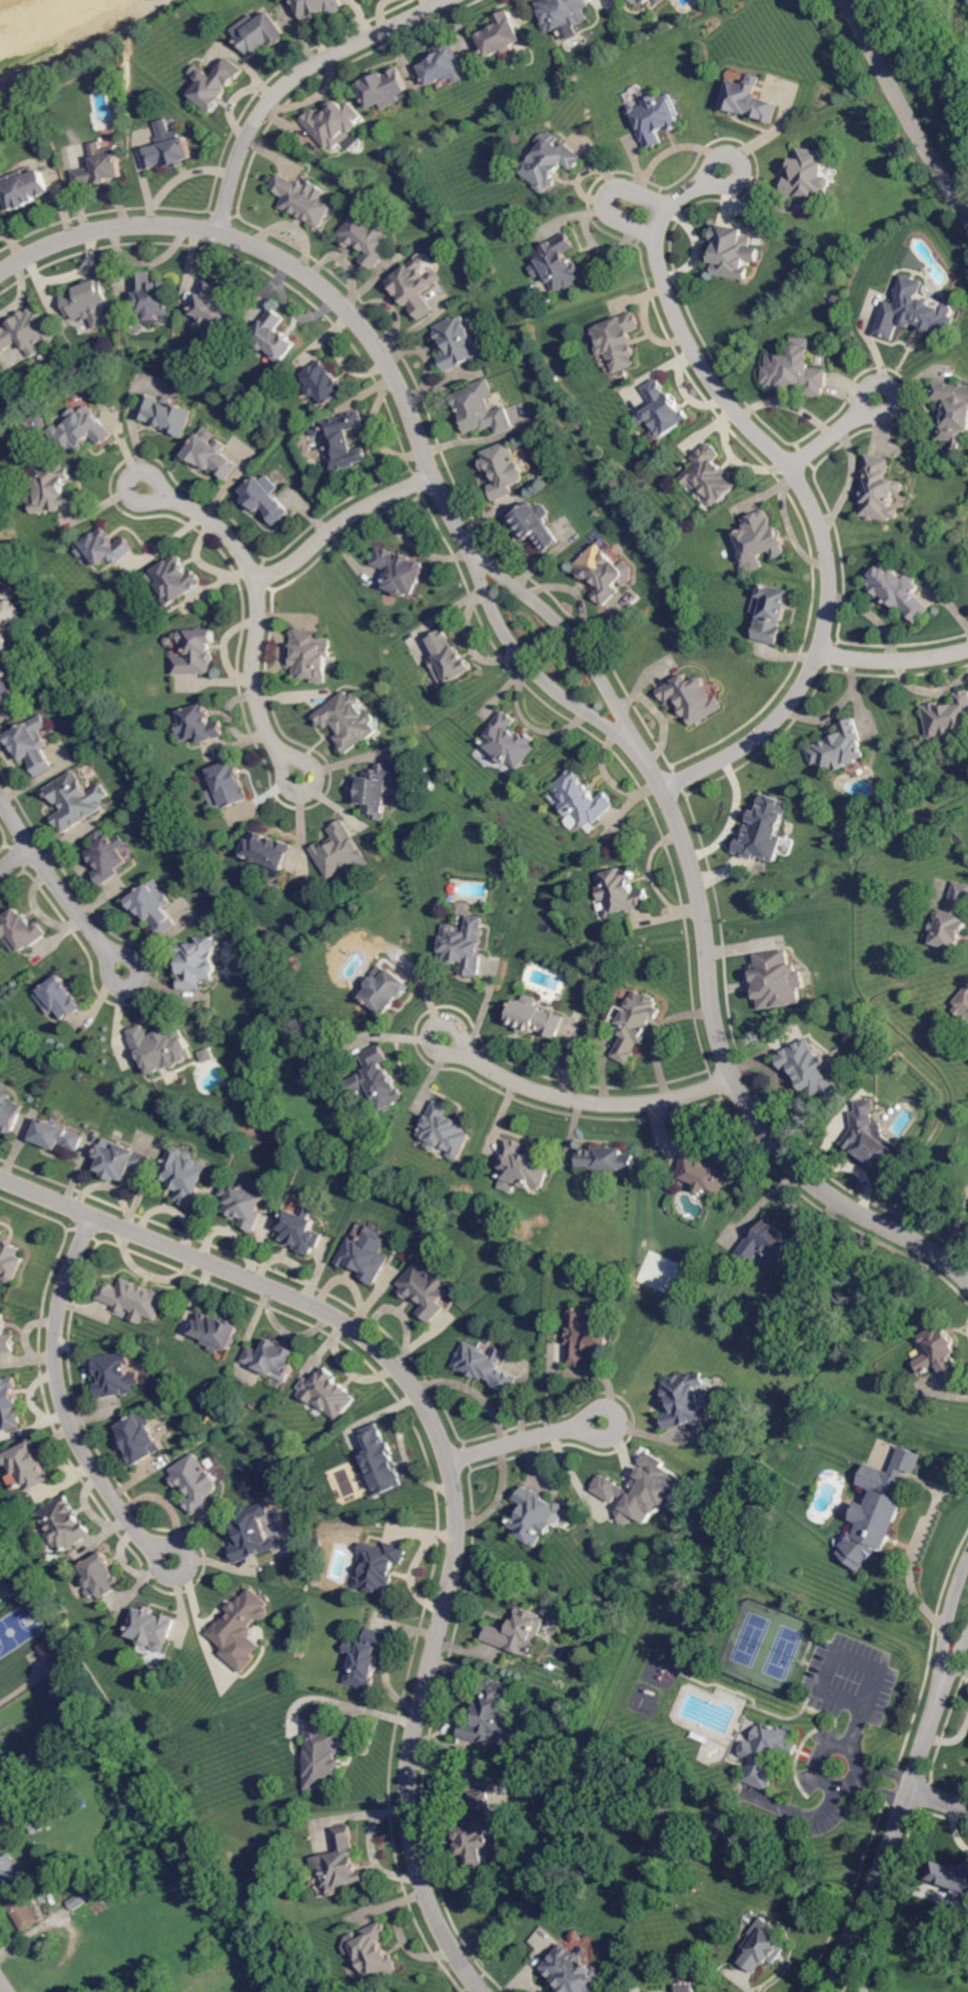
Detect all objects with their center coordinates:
building: (624, 0)
building: (641, 2)
building: (319, 8)
building: (563, 13)
building: (259, 33)
building: (501, 35)
building: (444, 65)
road: (297, 77)
building: (109, 78)
building: (214, 84)
building: (383, 88)
building: (750, 100)
road: (904, 107)
building: (656, 116)
building: (334, 124)
building: (168, 152)
building: (549, 162)
building: (101, 166)
building: (811, 174)
building: (23, 188)
road: (607, 194)
building: (302, 200)
building: (0, 213)
building: (367, 237)
building: (733, 252)
building: (559, 263)
building: (416, 287)
building: (150, 296)
building: (86, 300)
building: (214, 309)
building: (917, 313)
building: (474, 321)
building: (135, 327)
building: (27, 332)
building: (273, 337)
building: (618, 341)
building: (459, 343)
building: (797, 372)
building: (1, 374)
building: (322, 383)
building: (480, 409)
building: (664, 411)
building: (953, 412)
building: (164, 415)
building: (38, 423)
building: (81, 430)
road: (842, 436)
building: (343, 442)
building: (211, 456)
building: (502, 470)
building: (710, 476)
road: (812, 481)
building: (54, 490)
building: (880, 490)
building: (265, 499)
road: (344, 524)
building: (537, 525)
building: (762, 541)
building: (106, 548)
building: (0, 554)
building: (400, 571)
building: (605, 573)
building: (5, 574)
building: (175, 580)
building: (899, 591)
building: (771, 613)
road: (255, 614)
building: (6, 624)
building: (169, 640)
building: (195, 652)
road: (554, 652)
building: (310, 656)
building: (448, 660)
road: (897, 664)
building: (7, 687)
building: (692, 699)
building: (948, 718)
building: (348, 721)
building: (199, 724)
building: (509, 742)
building: (33, 744)
building: (840, 748)
building: (229, 783)
building: (376, 789)
building: (582, 800)
building: (73, 802)
road: (733, 815)
building: (766, 831)
building: (268, 850)
building: (338, 850)
building: (108, 857)
road: (17, 867)
road: (56, 883)
building: (622, 892)
building: (154, 907)
building: (953, 921)
building: (22, 931)
building: (463, 949)
building: (197, 963)
building: (779, 980)
building: (385, 990)
building: (60, 999)
building: (963, 1007)
building: (535, 1018)
building: (634, 1024)
road: (658, 1029)
building: (161, 1048)
building: (206, 1056)
building: (810, 1070)
building: (378, 1079)
road: (587, 1096)
building: (10, 1114)
building: (445, 1131)
building: (58, 1136)
building: (874, 1141)
building: (608, 1159)
building: (122, 1160)
building: (524, 1166)
building: (701, 1170)
building: (186, 1176)
building: (244, 1204)
building: (301, 1230)
building: (1, 1234)
building: (771, 1244)
building: (366, 1254)
building: (11, 1261)
building: (426, 1290)
building: (134, 1300)
building: (215, 1332)
building: (6, 1336)
building: (588, 1337)
building: (942, 1351)
building: (273, 1360)
building: (486, 1367)
building: (115, 1376)
building: (327, 1394)
road: (71, 1402)
building: (685, 1403)
building: (10, 1404)
road: (531, 1437)
building: (139, 1439)
road: (456, 1455)
building: (382, 1461)
building: (29, 1466)
building: (194, 1484)
building: (644, 1491)
building: (881, 1508)
building: (535, 1516)
building: (65, 1525)
building: (250, 1535)
road: (903, 1559)
building: (380, 1566)
building: (101, 1576)
building: (6, 1590)
building: (152, 1628)
building: (240, 1630)
building: (518, 1633)
building: (365, 1658)
building: (492, 1717)
building: (766, 1754)
building: (323, 1755)
road: (849, 1770)
road: (940, 1800)
road: (906, 1804)
building: (42, 1807)
building: (23, 1816)
building: (41, 1826)
building: (477, 1830)
building: (339, 1861)
building: (10, 1865)
building: (951, 1876)
building: (80, 1900)
building: (25, 1912)
building: (579, 1936)
building: (766, 1947)
building: (373, 1952)
building: (577, 1972)
road: (6, 1982)

